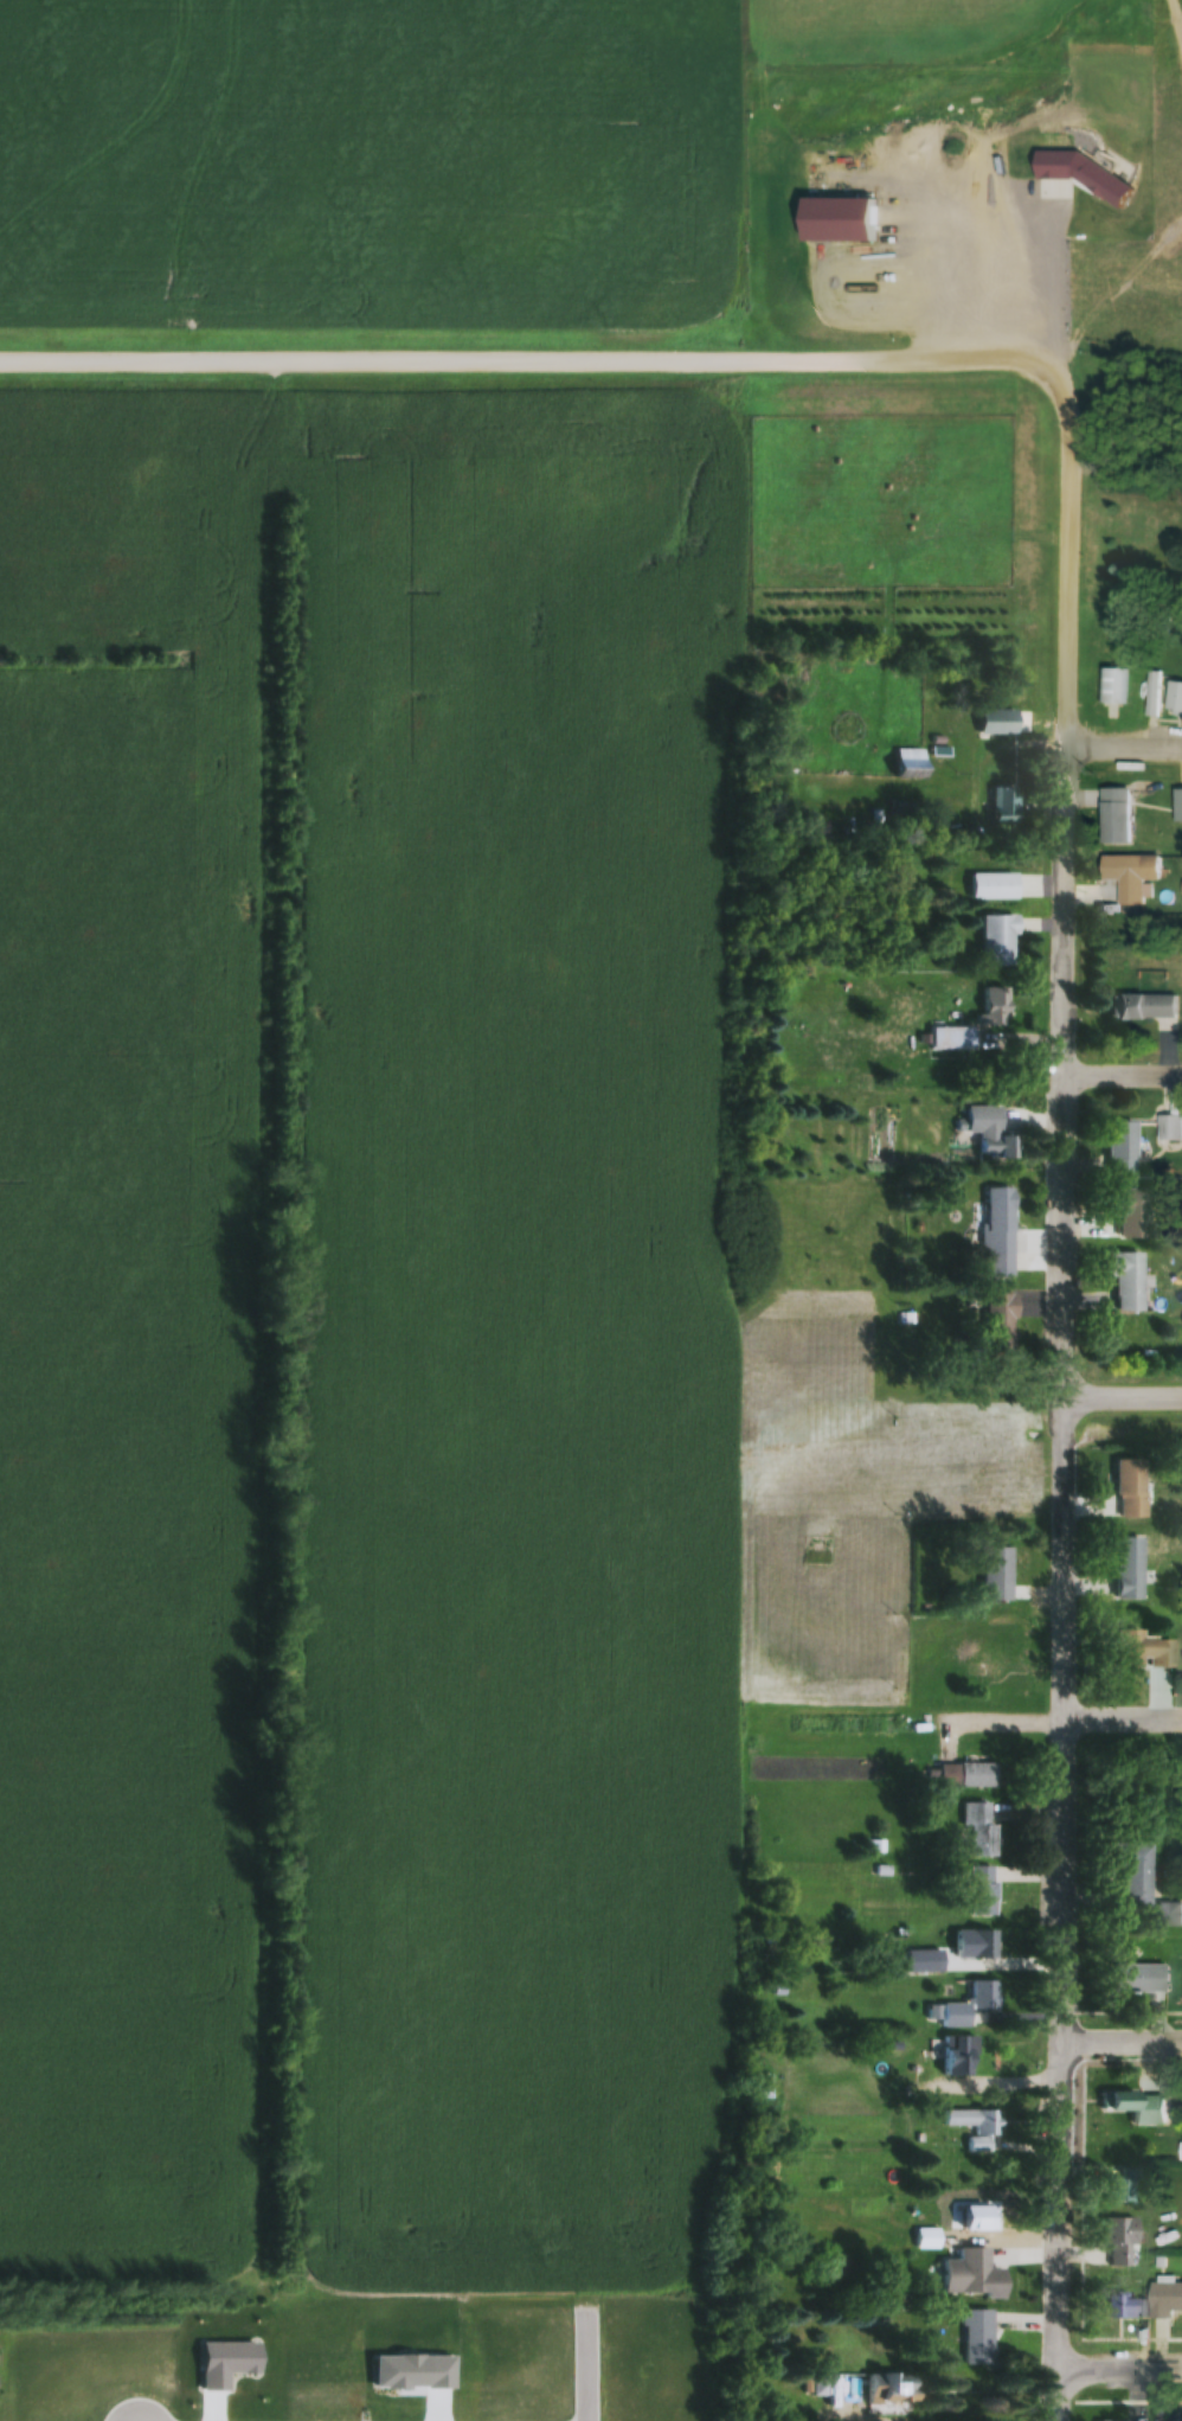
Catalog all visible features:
road: (520, 356)
building: (1113, 686)
building: (1155, 693)
building: (1174, 698)
building: (994, 723)
road: (1125, 743)
building: (1001, 802)
building: (1177, 806)
building: (1116, 818)
building: (932, 825)
building: (1124, 877)
building: (991, 886)
building: (995, 940)
building: (991, 1005)
building: (1142, 1006)
building: (950, 1038)
road: (1124, 1069)
building: (1169, 1128)
building: (984, 1132)
building: (1118, 1148)
building: (1124, 1209)
building: (996, 1232)
building: (1122, 1280)
building: (997, 1321)
road: (1065, 1386)
road: (1124, 1386)
building: (1126, 1488)
building: (1125, 1569)
building: (993, 1574)
building: (1139, 1651)
road: (989, 1714)
road: (1123, 1714)
building: (975, 1775)
building: (979, 1830)
building: (1132, 1875)
building: (981, 1891)
building: (1168, 1915)
building: (981, 1945)
building: (1137, 1978)
building: (970, 2005)
road: (1123, 2037)
building: (766, 2086)
building: (1149, 2107)
building: (975, 2125)
building: (1181, 2152)
building: (1113, 2191)
building: (975, 2220)
building: (1119, 2233)
building: (970, 2275)
building: (1164, 2301)
building: (976, 2338)
road: (587, 2357)
road: (1119, 2366)
building: (821, 2385)
building: (886, 2389)

